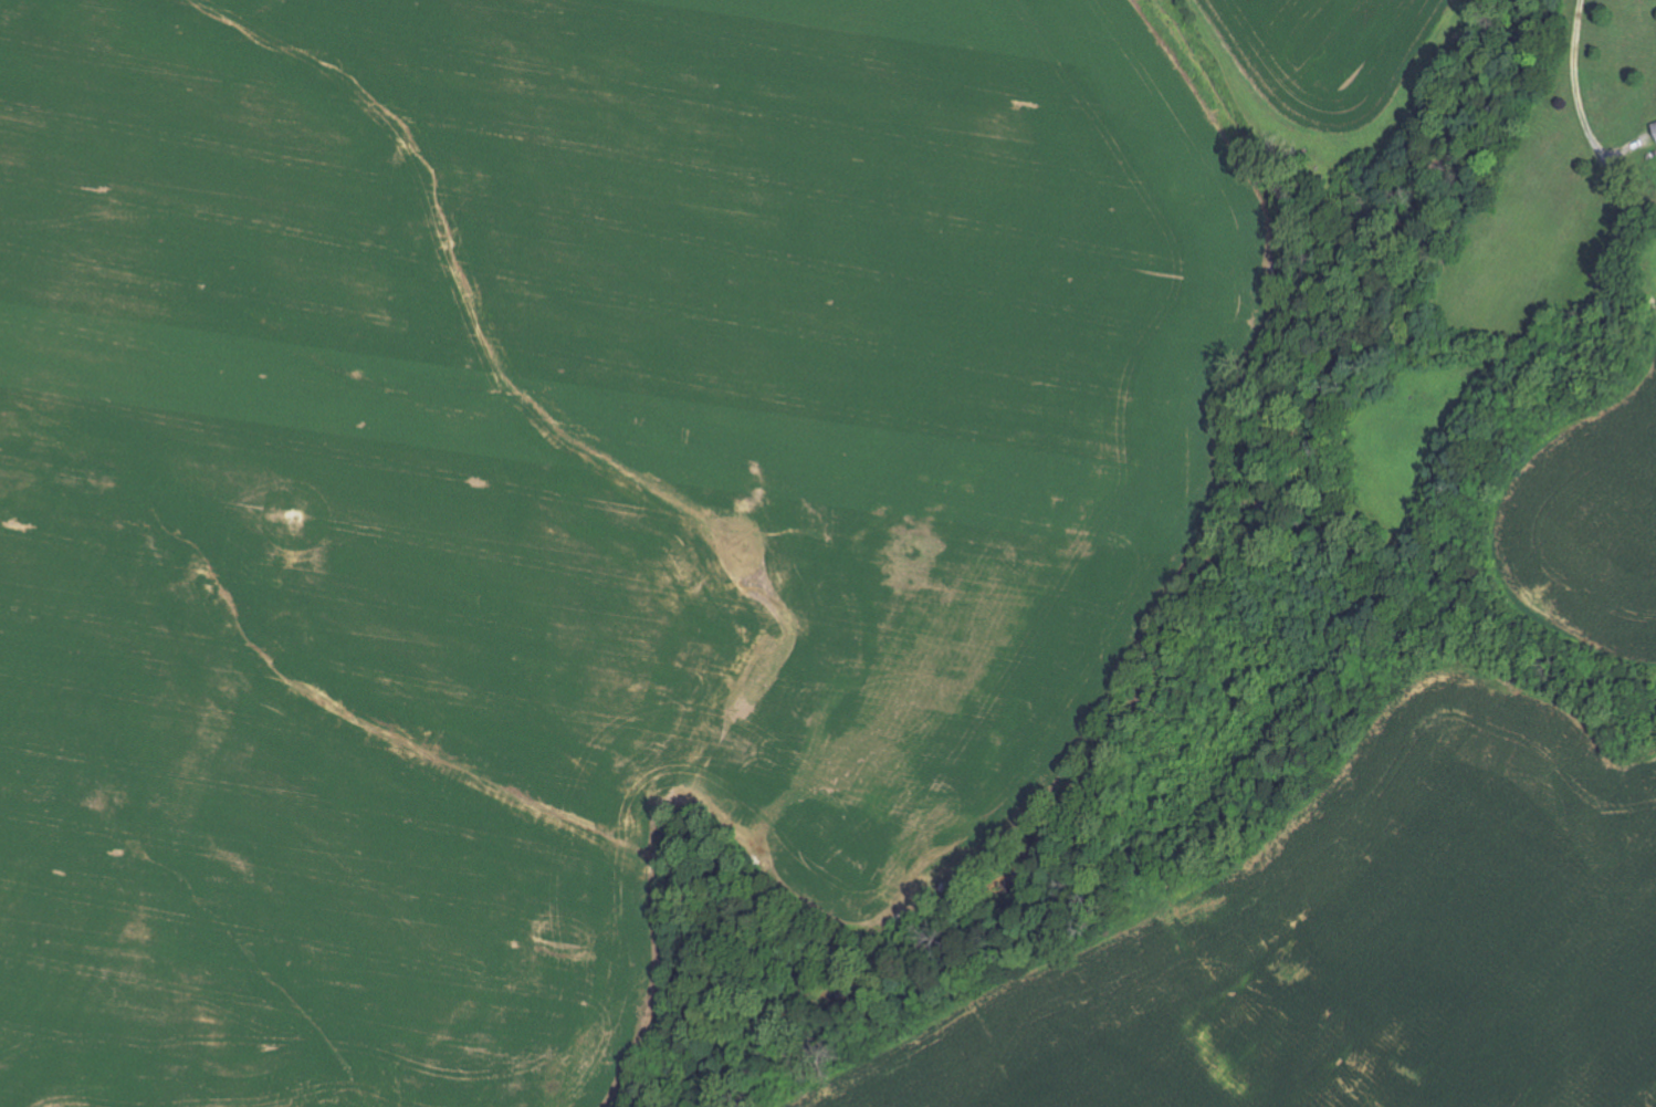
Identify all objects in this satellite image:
road: (1576, 86)

